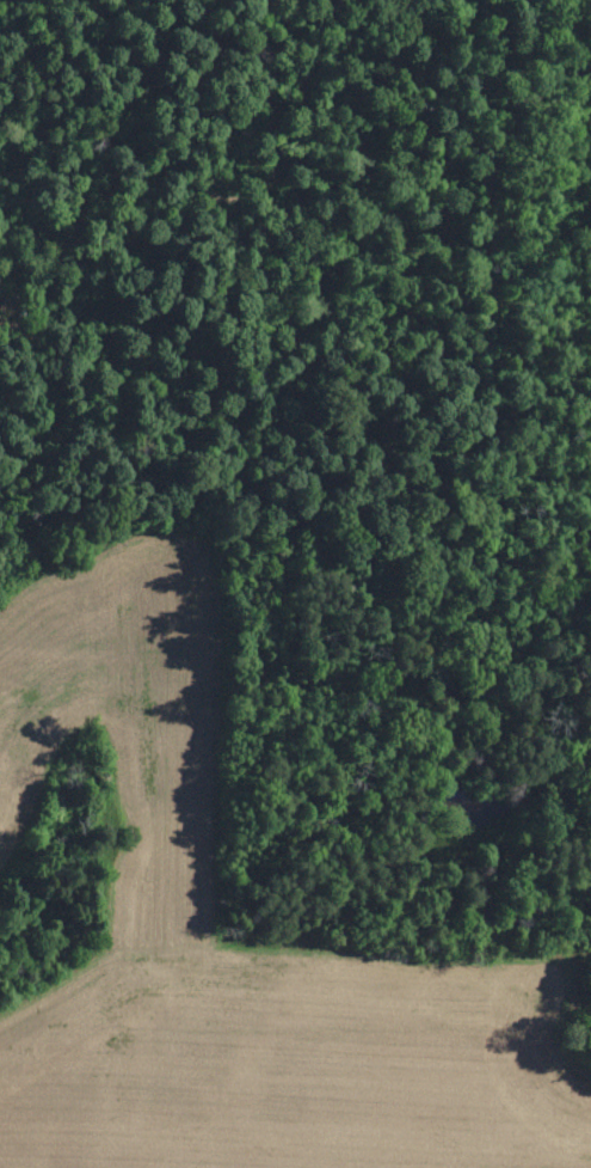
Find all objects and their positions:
road: (293, 976)

